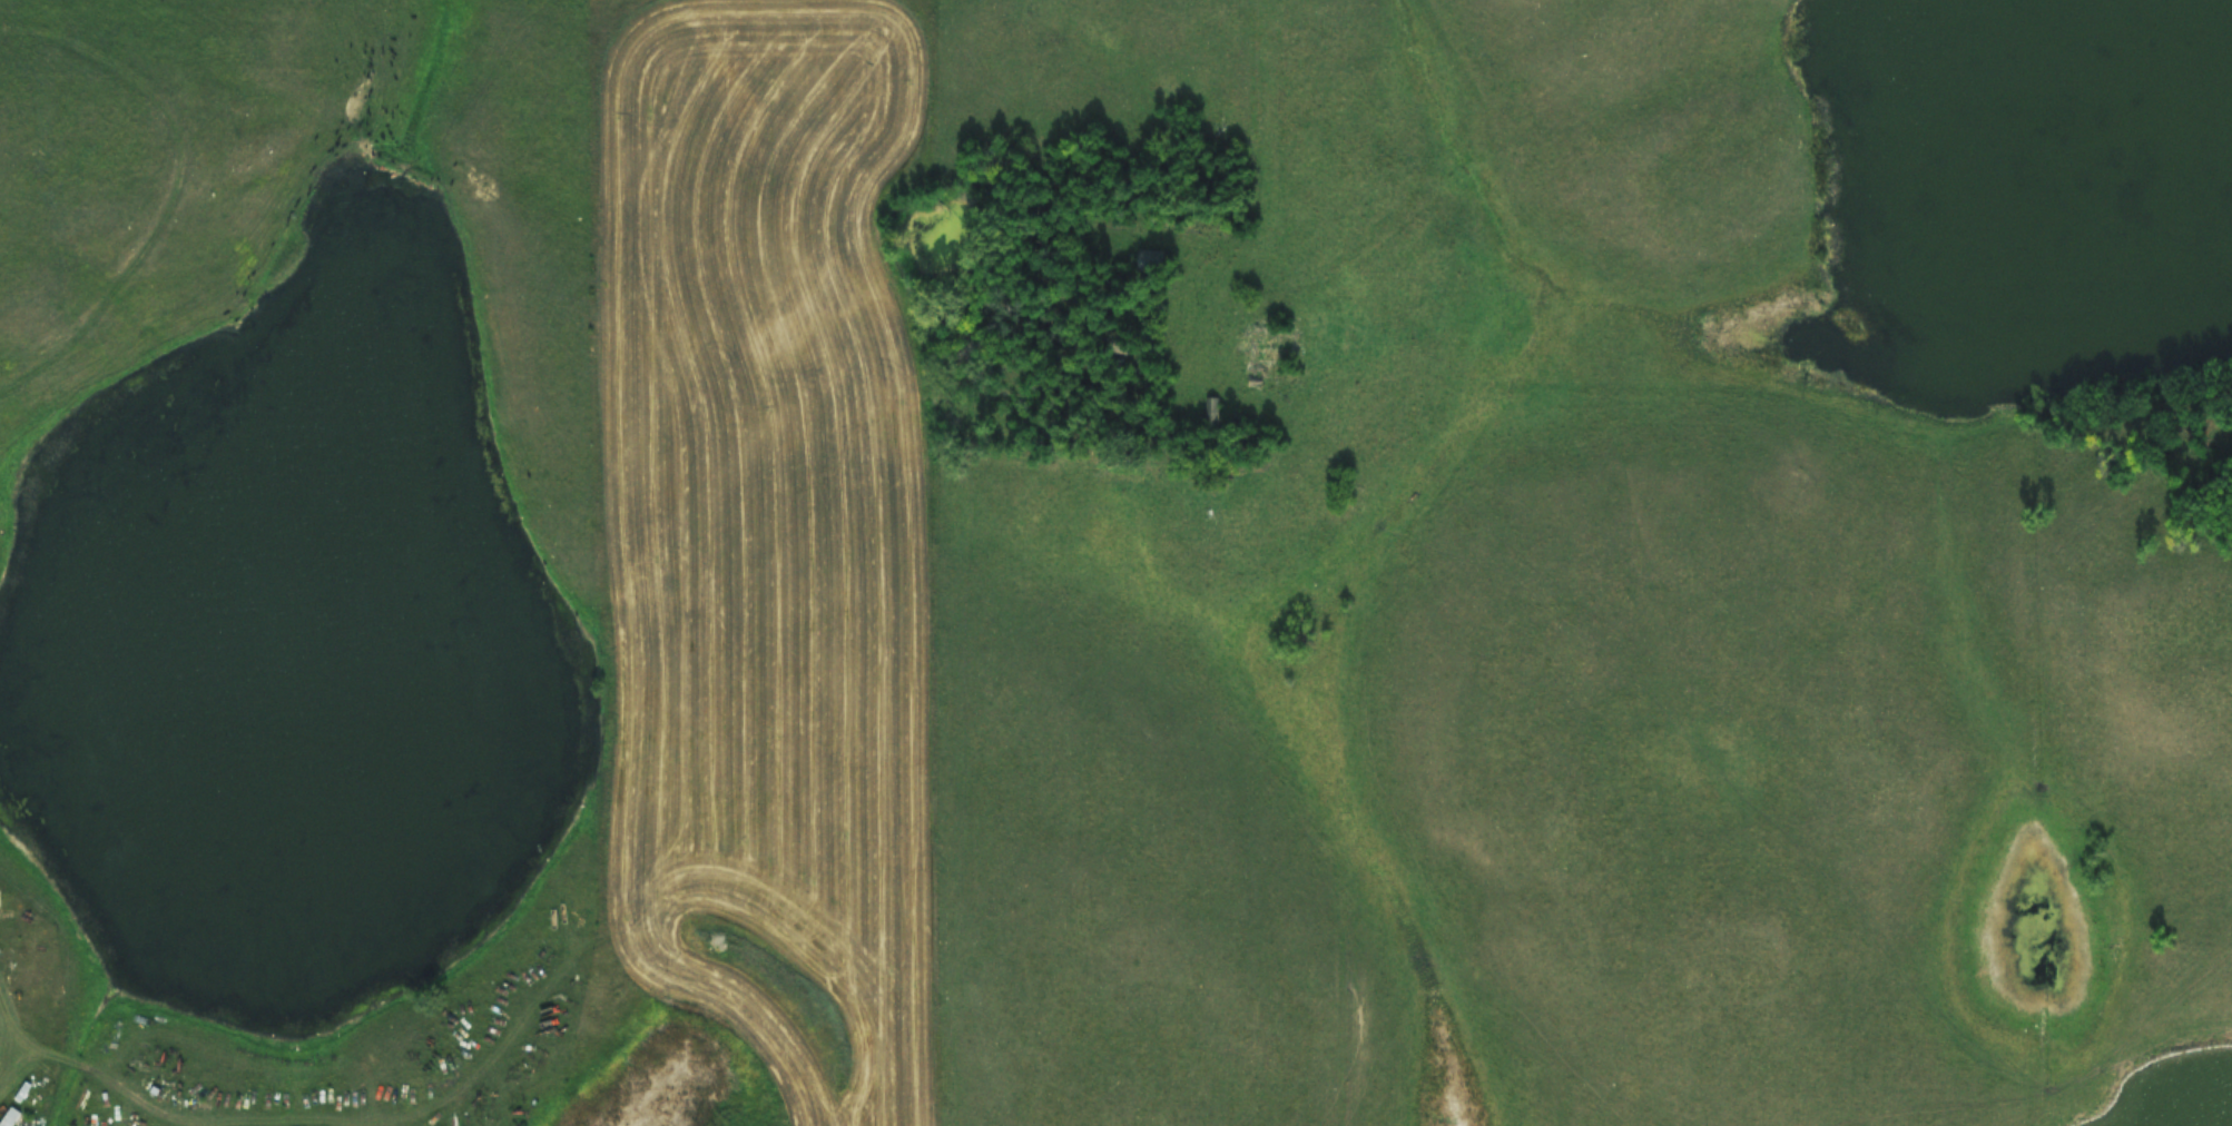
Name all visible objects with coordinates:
building: (1150, 258)
building: (1215, 411)

